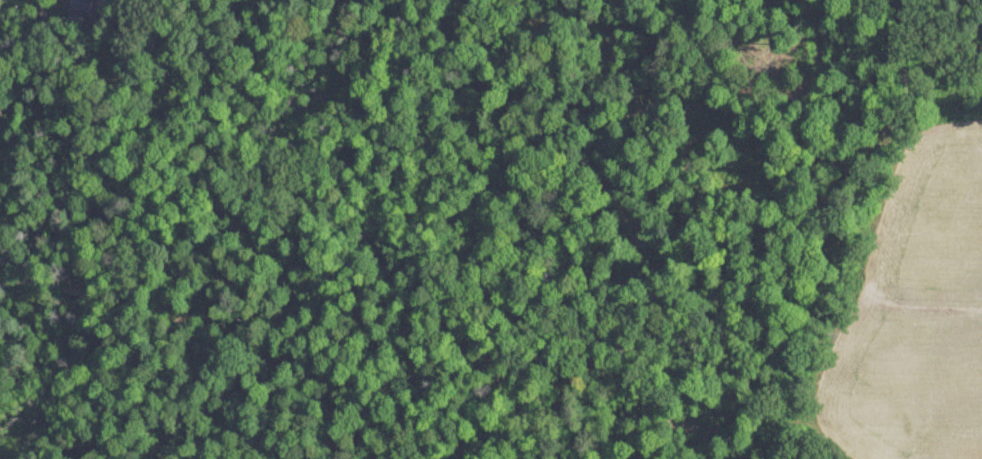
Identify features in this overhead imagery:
building: (77, 13)

